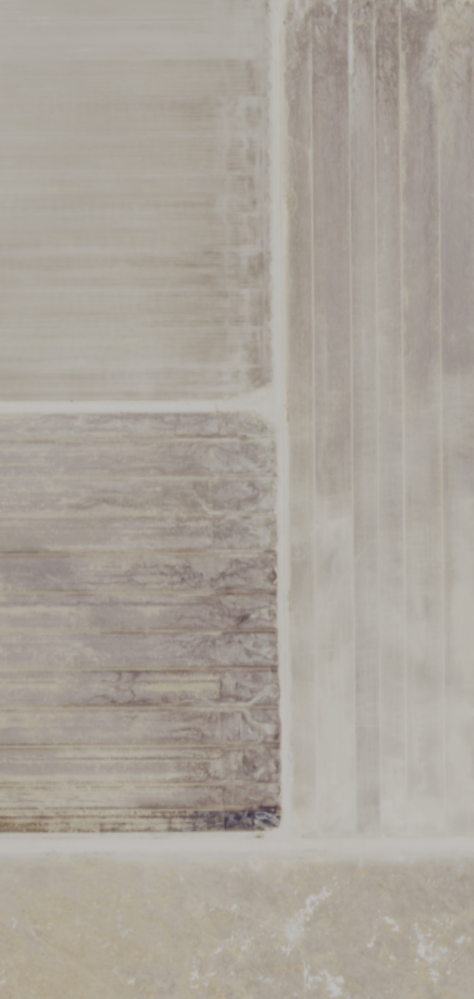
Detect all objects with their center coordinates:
road: (289, 326)

